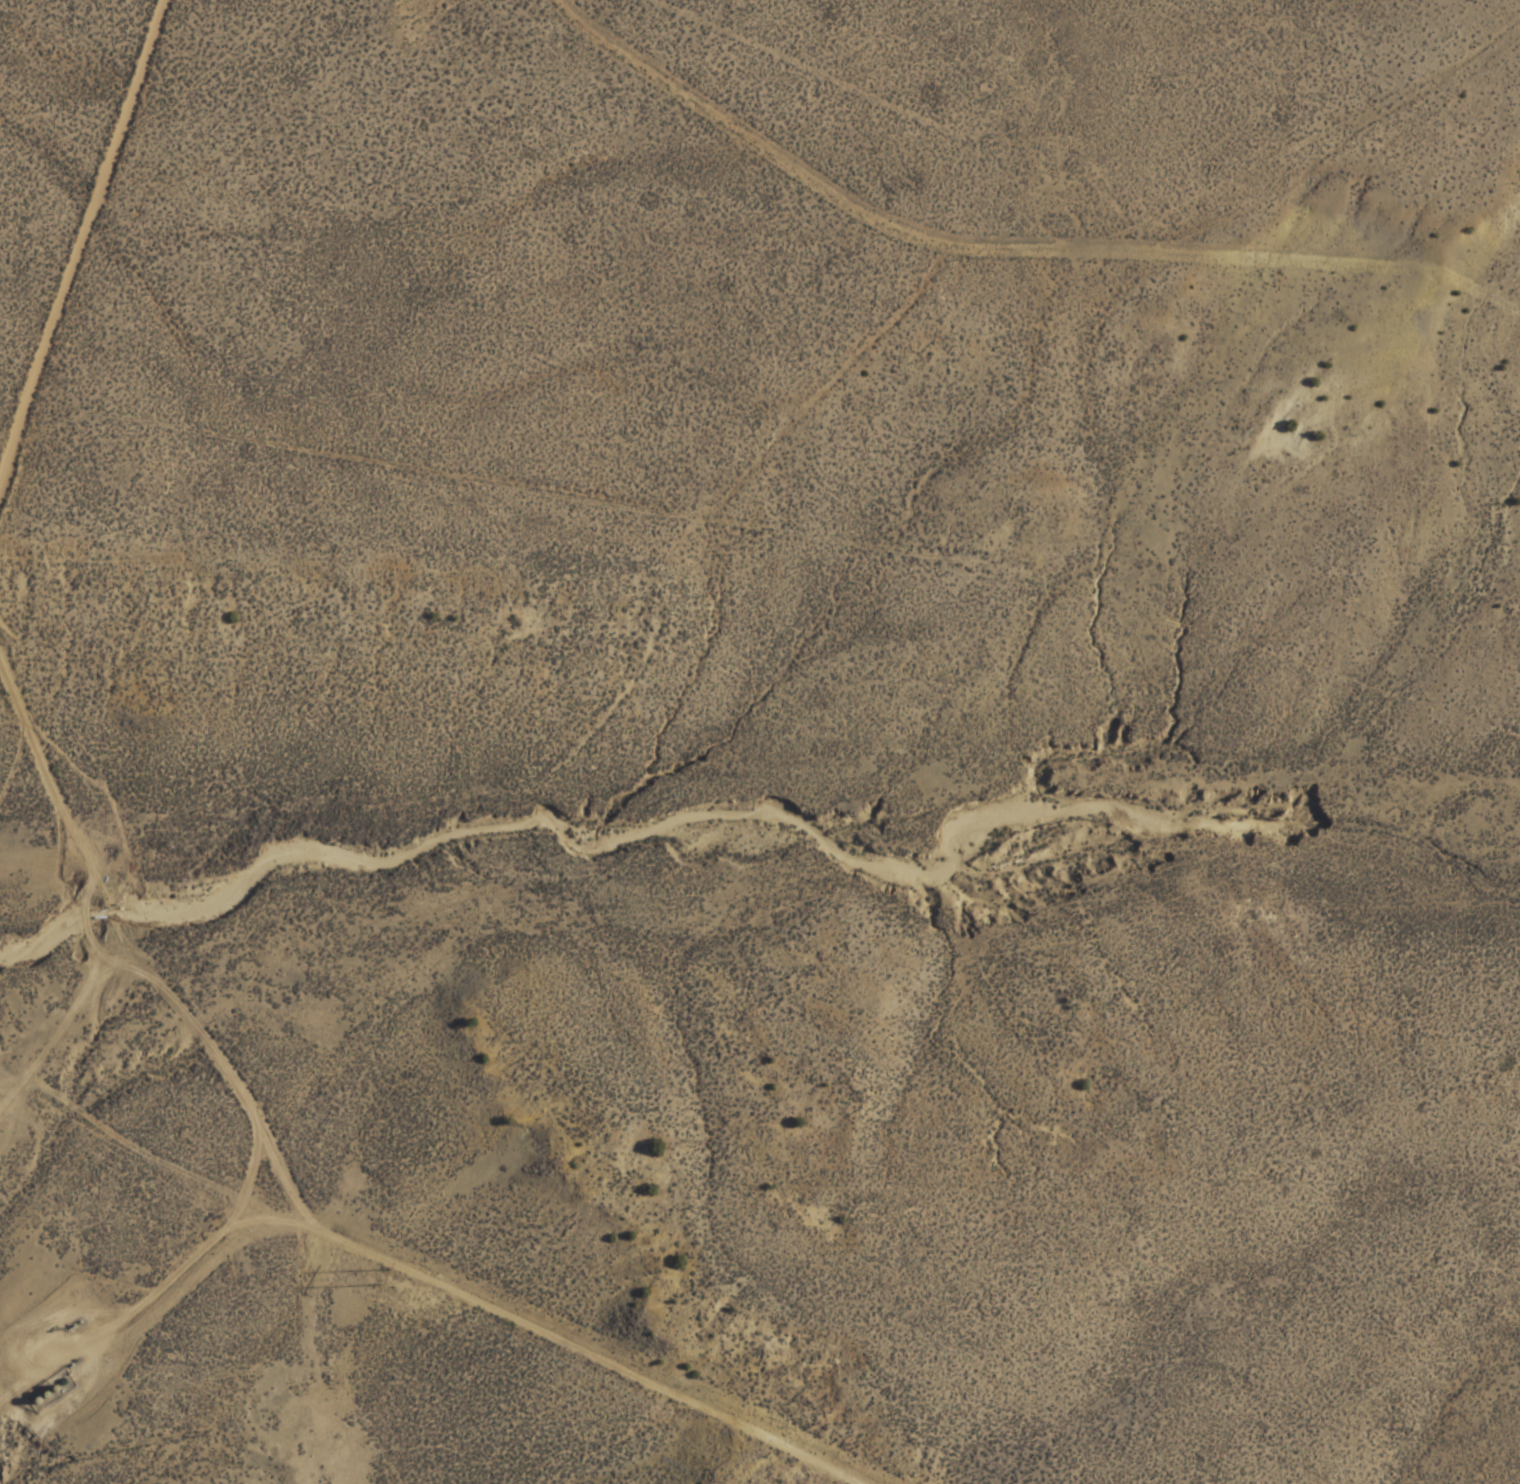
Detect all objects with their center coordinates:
road: (56, 144)
power tower: (374, 1276)

